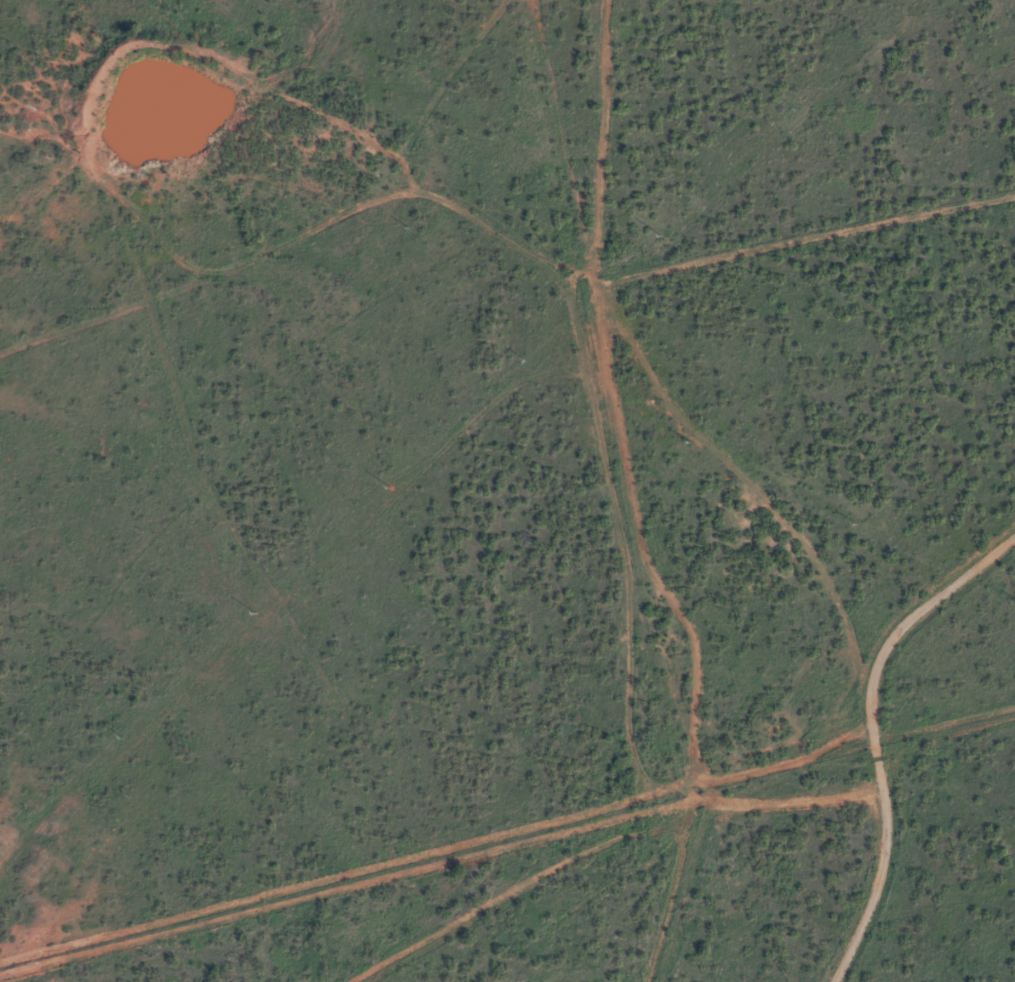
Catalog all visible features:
road: (565, 456)
road: (771, 484)
road: (944, 698)
road: (634, 875)

